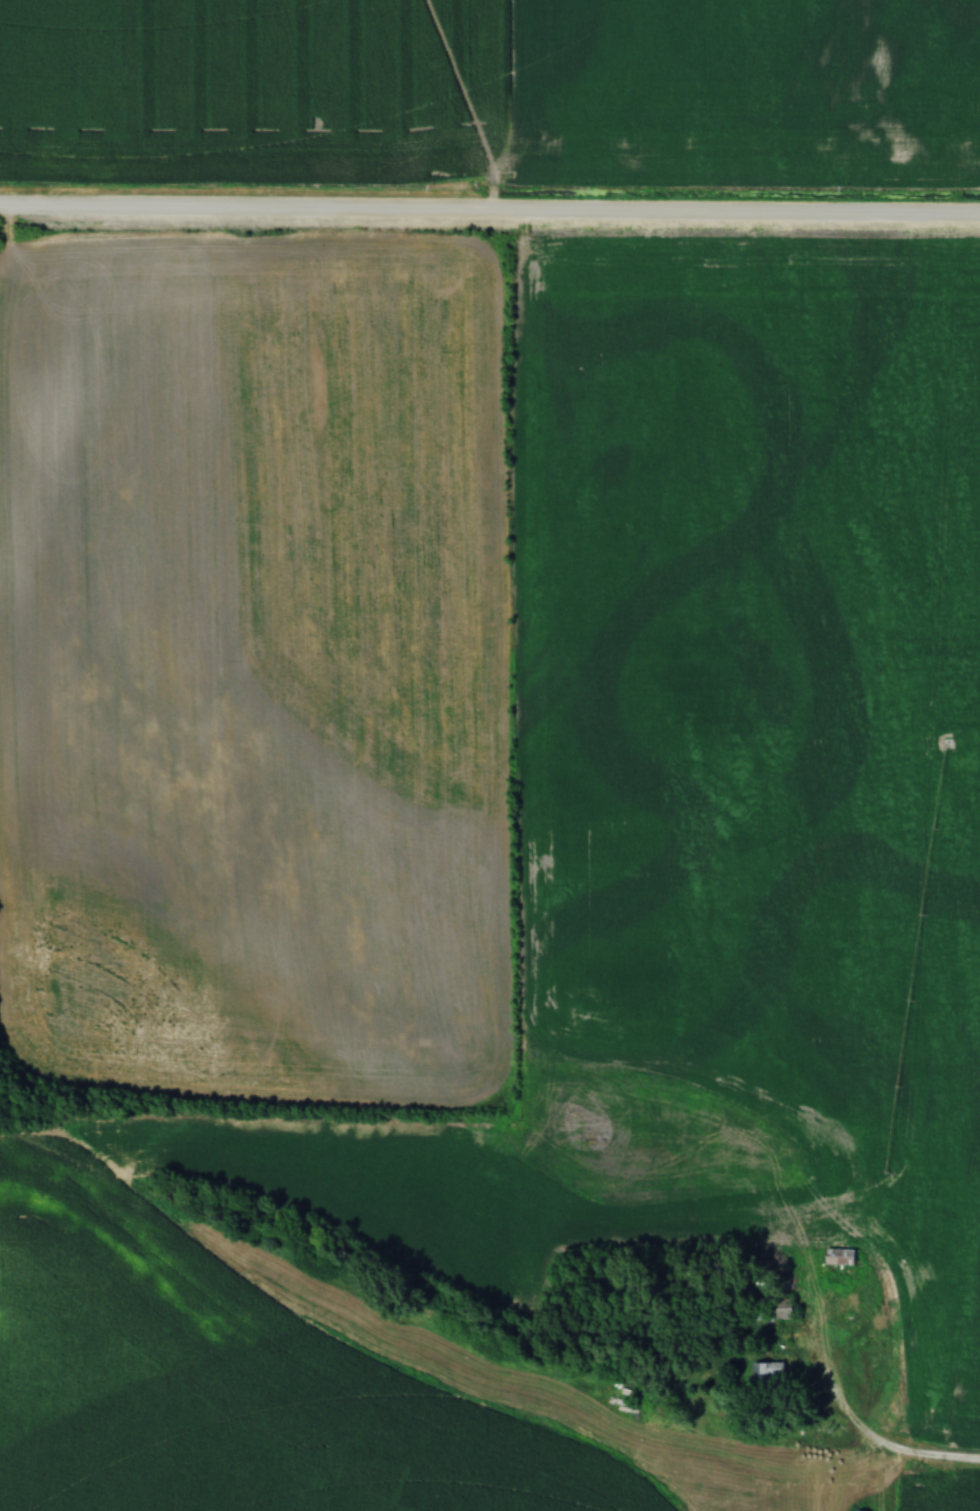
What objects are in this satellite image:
road: (489, 212)
building: (836, 1259)
building: (777, 1308)
building: (769, 1376)
road: (850, 1419)

